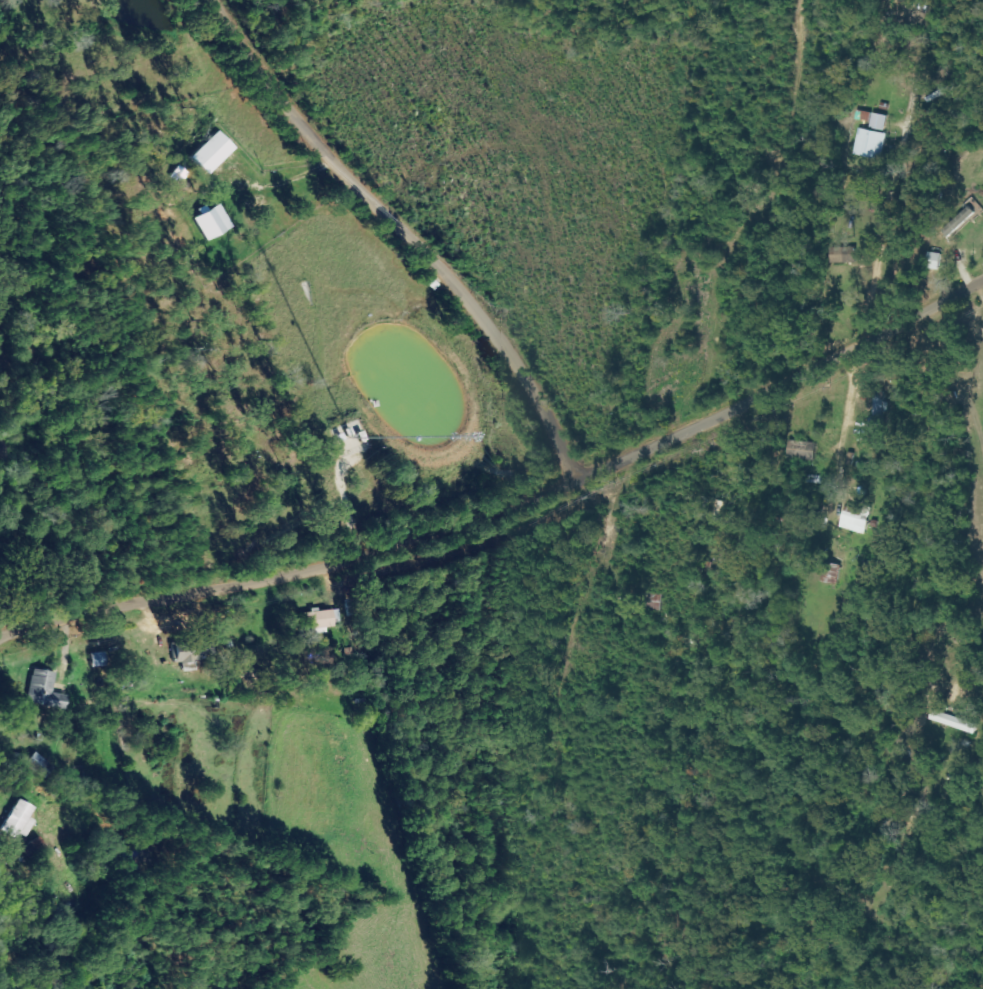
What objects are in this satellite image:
building: (881, 123)
building: (872, 145)
building: (213, 152)
building: (963, 218)
building: (214, 223)
road: (402, 235)
building: (847, 255)
road: (781, 396)
building: (881, 408)
building: (804, 451)
building: (859, 520)
road: (292, 573)
building: (339, 616)
building: (321, 619)
road: (10, 624)
building: (190, 652)
building: (100, 659)
building: (46, 690)
building: (956, 722)
building: (21, 820)
building: (36, 850)

